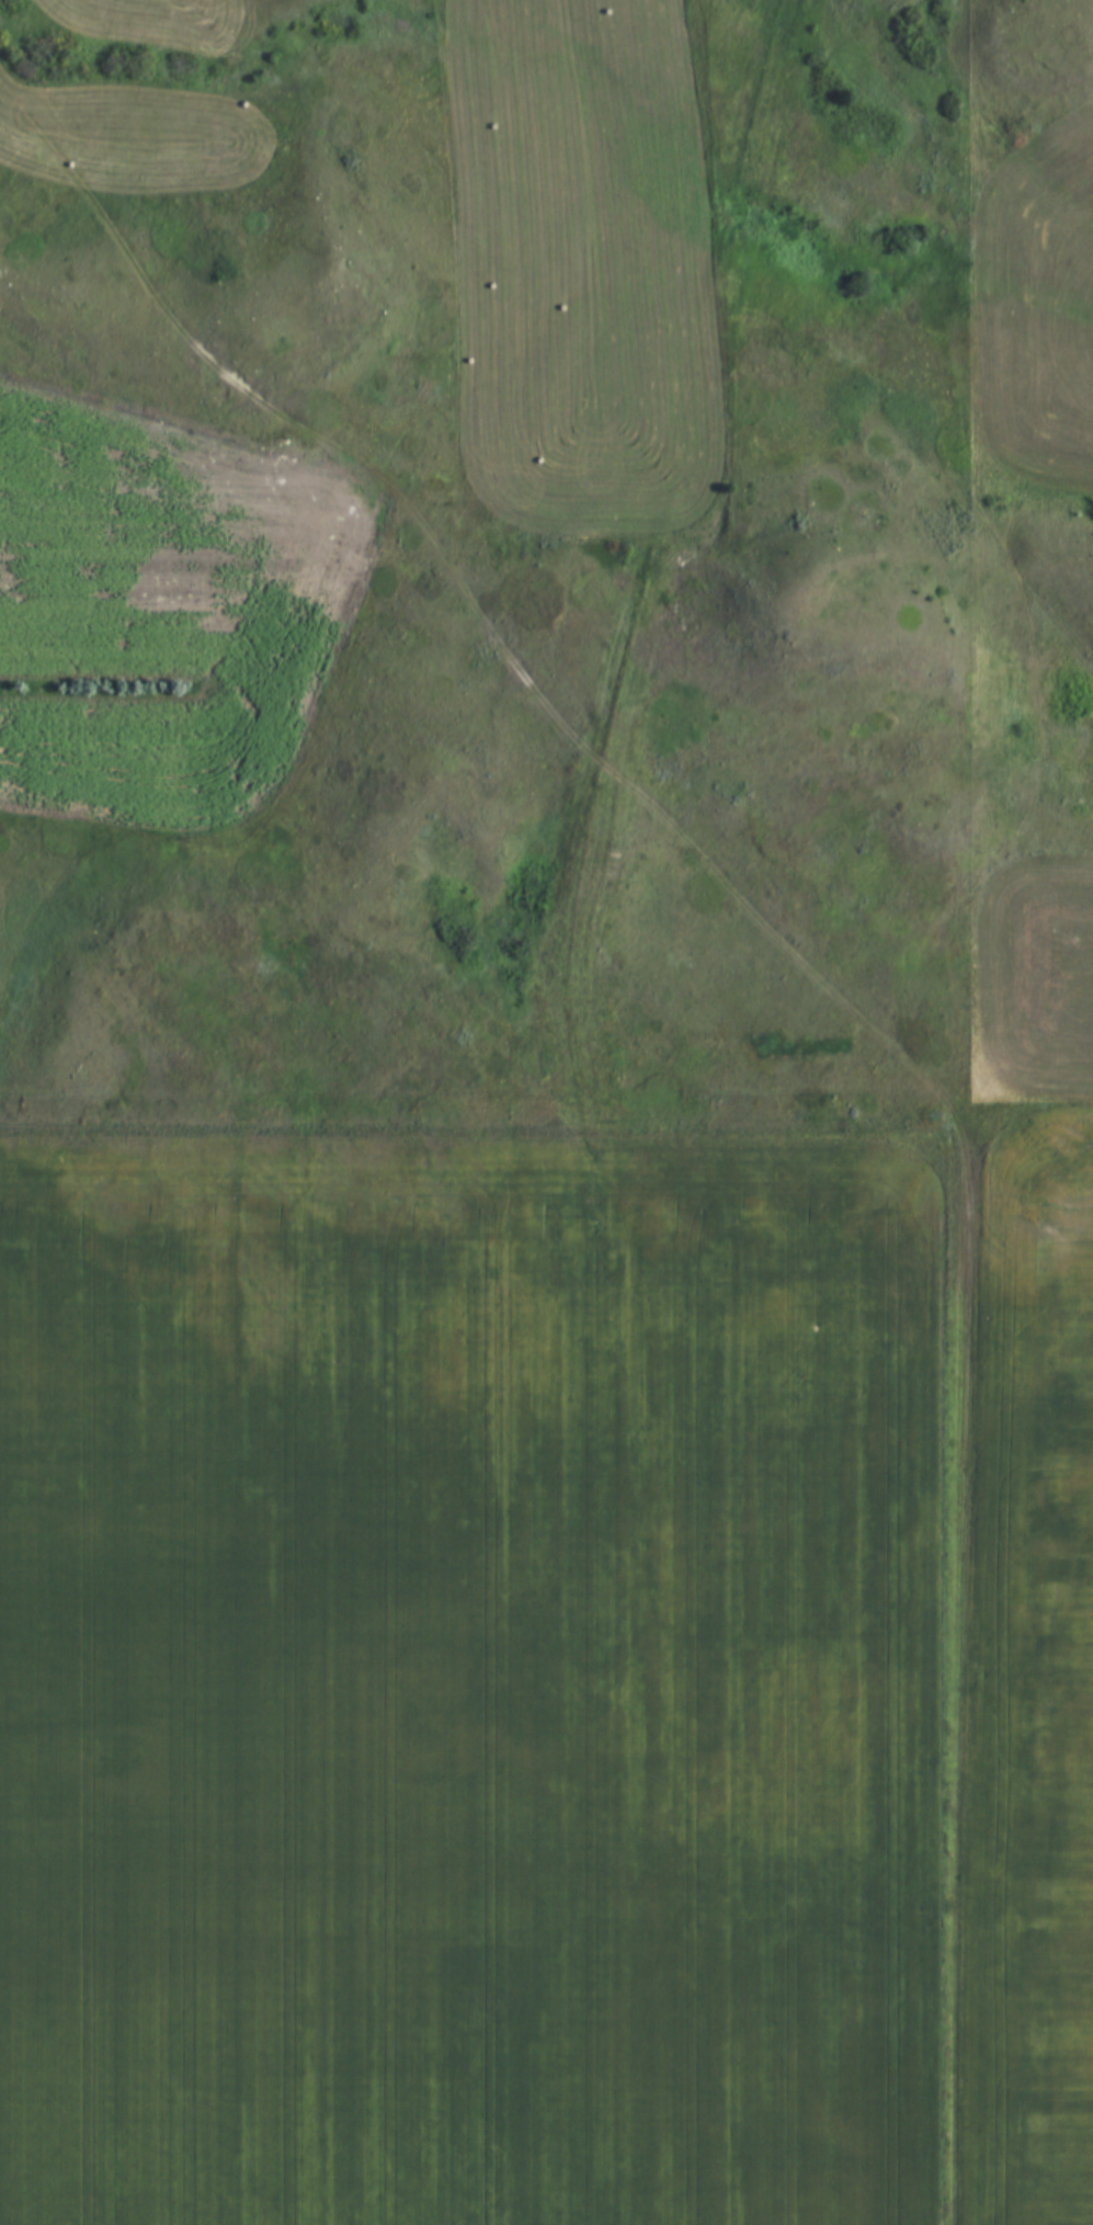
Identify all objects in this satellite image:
road: (955, 2187)

